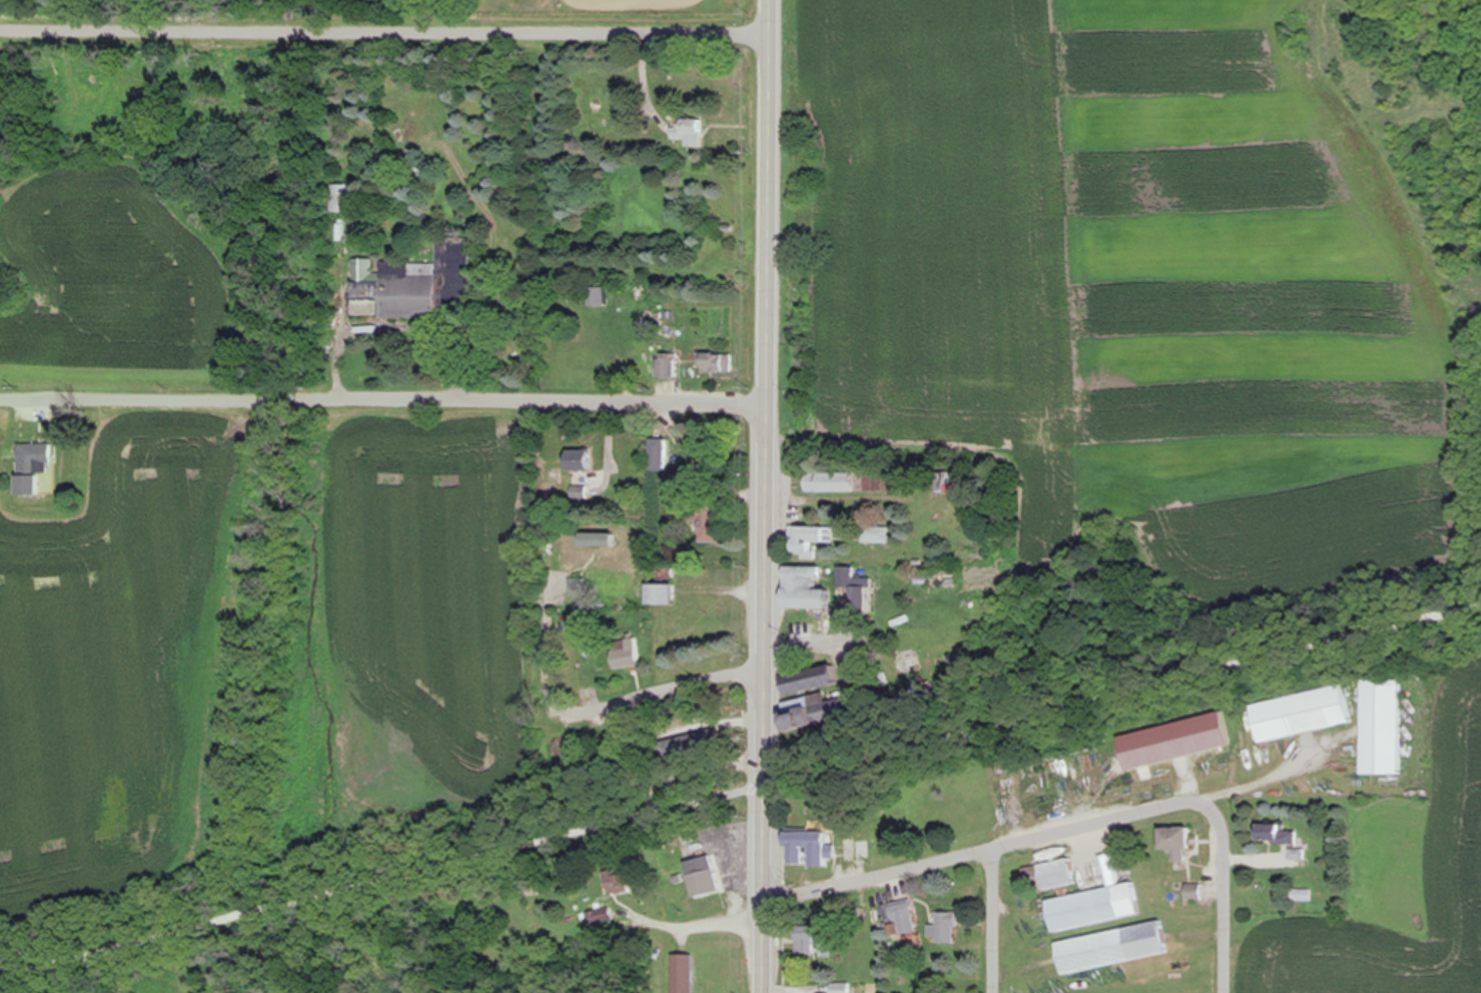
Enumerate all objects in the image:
road: (385, 34)
road: (646, 89)
building: (395, 289)
building: (601, 297)
building: (668, 366)
road: (384, 397)
building: (579, 460)
building: (30, 467)
road: (699, 472)
building: (953, 478)
building: (830, 482)
road: (766, 496)
building: (596, 540)
building: (810, 540)
building: (803, 589)
building: (858, 591)
building: (661, 594)
building: (627, 653)
building: (808, 680)
road: (600, 708)
building: (1302, 713)
building: (800, 719)
building: (1383, 727)
road: (740, 793)
building: (1271, 833)
building: (1176, 842)
road: (993, 849)
building: (1053, 874)
building: (703, 877)
building: (617, 882)
building: (1194, 892)
building: (1302, 895)
road: (1225, 900)
building: (1097, 902)
building: (602, 916)
building: (903, 920)
road: (994, 921)
road: (702, 927)
building: (951, 928)
building: (811, 939)
building: (1112, 948)
building: (685, 974)

